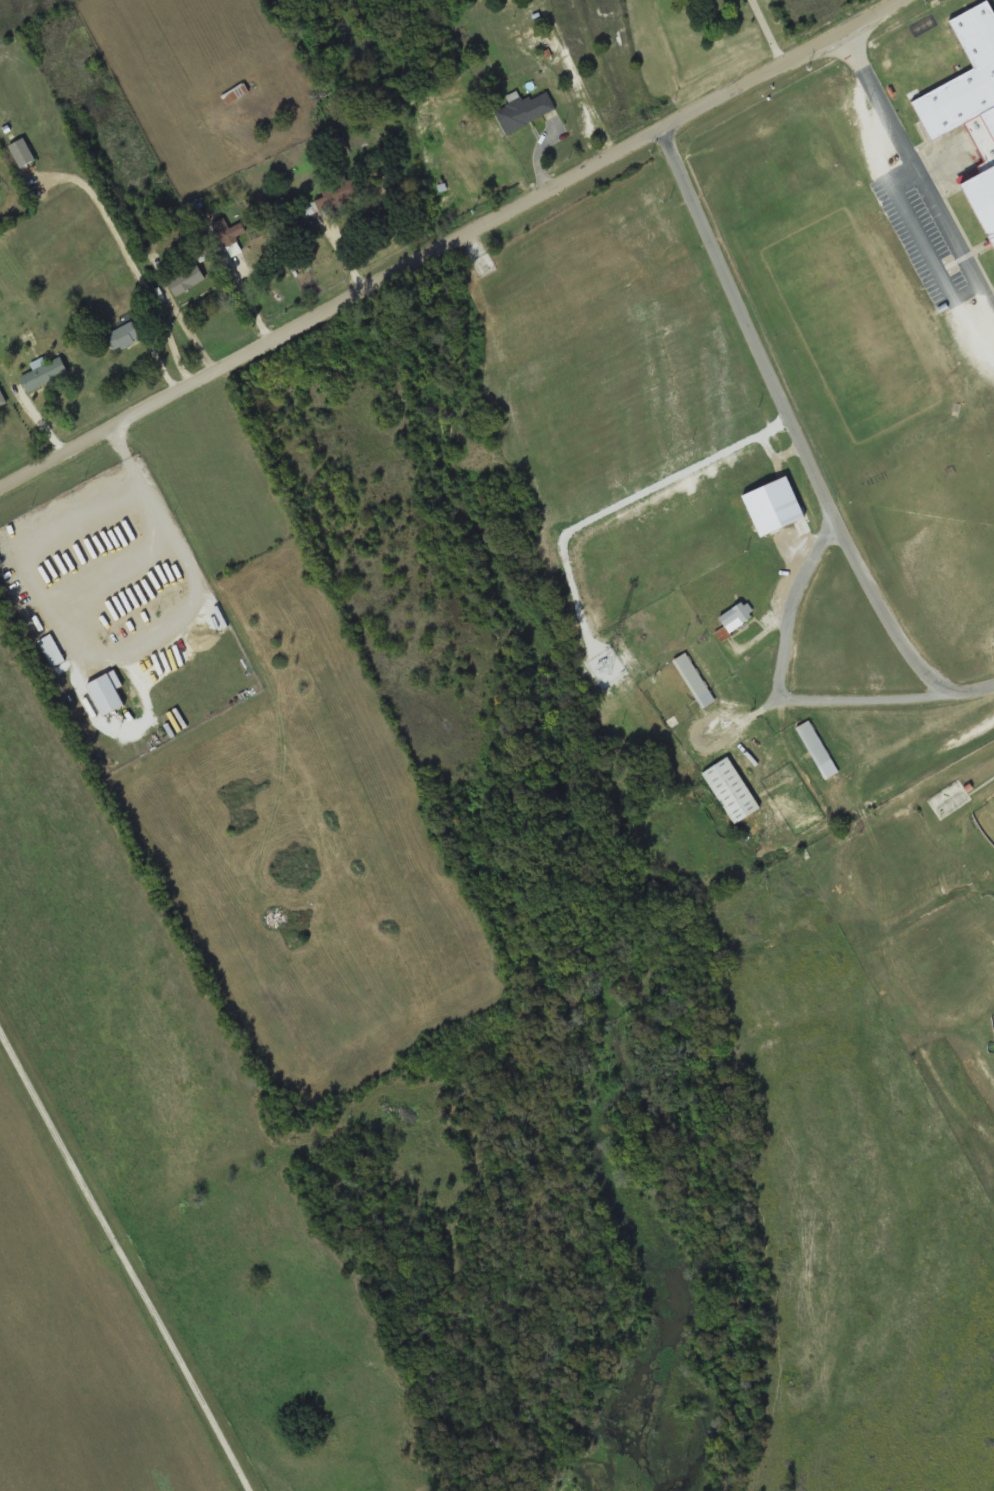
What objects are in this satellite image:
building: (964, 78)
building: (234, 93)
building: (525, 111)
building: (21, 152)
building: (444, 186)
building: (984, 199)
building: (229, 234)
road: (450, 245)
road: (135, 278)
building: (186, 279)
building: (122, 336)
building: (44, 373)
building: (2, 398)
road: (791, 424)
building: (772, 506)
building: (732, 619)
road: (793, 646)
building: (50, 649)
building: (694, 680)
road: (891, 705)
building: (813, 743)
building: (731, 789)
park: (985, 821)
park: (992, 1022)
road: (124, 1262)

